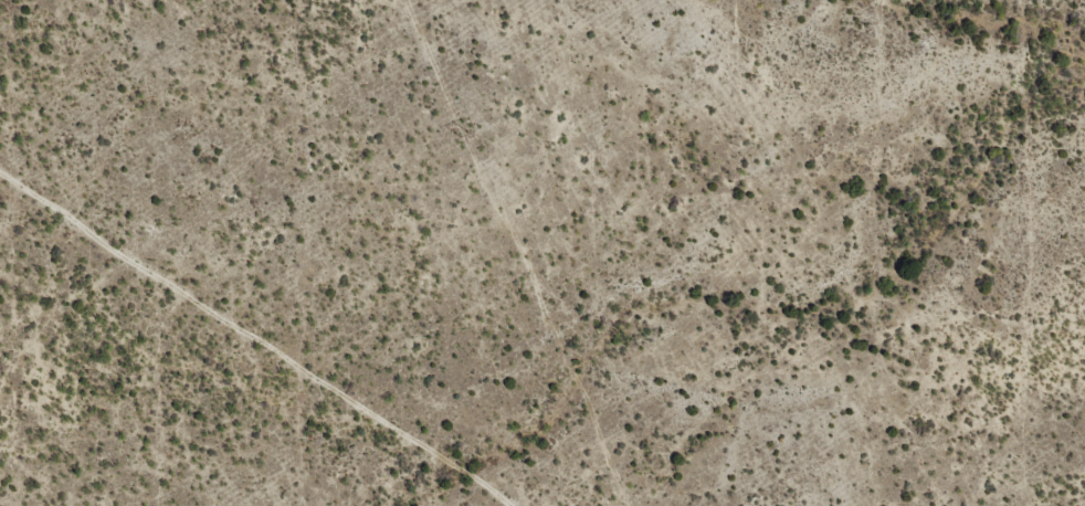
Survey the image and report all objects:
power tower: (465, 134)
road: (314, 334)

